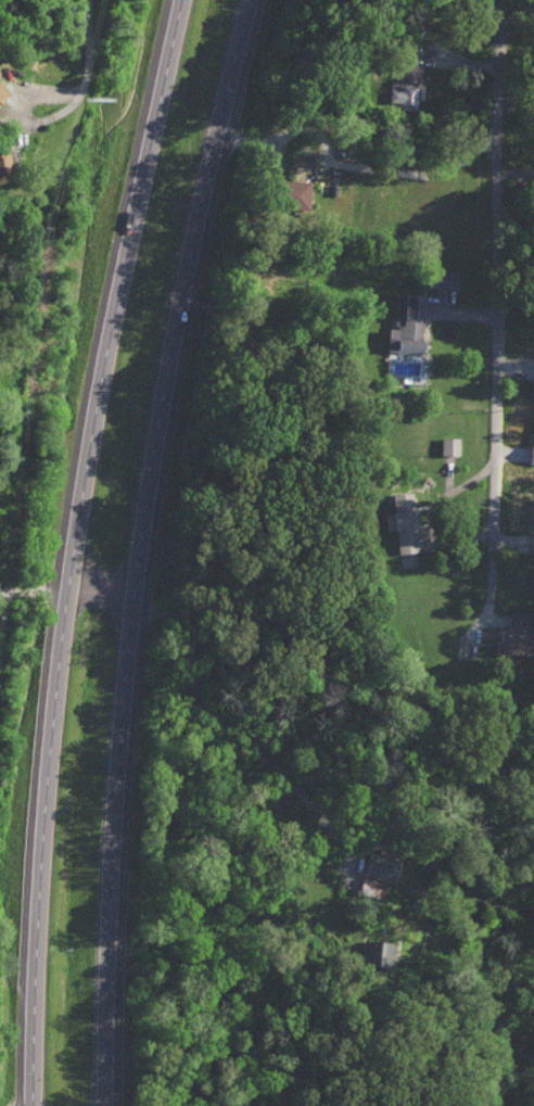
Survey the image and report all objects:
building: (406, 69)
road: (86, 76)
building: (1, 90)
building: (400, 97)
building: (285, 193)
building: (436, 278)
road: (496, 321)
building: (404, 325)
building: (532, 374)
building: (447, 445)
road: (431, 514)
building: (398, 521)
road: (133, 546)
road: (71, 548)
road: (62, 580)
road: (2, 599)
building: (508, 636)
road: (234, 722)
building: (376, 866)
building: (368, 887)
building: (377, 953)

